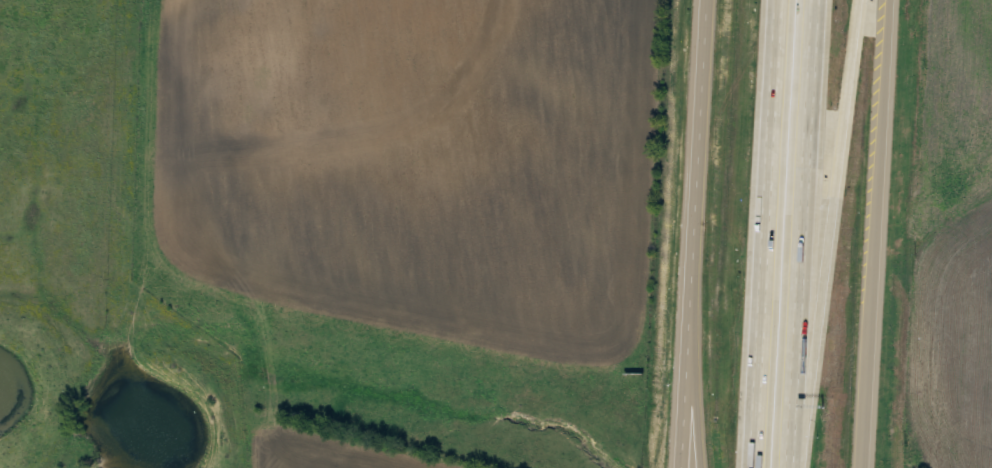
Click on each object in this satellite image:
road: (696, 234)
road: (769, 234)
road: (801, 234)
road: (832, 234)
road: (876, 234)
road: (697, 315)
building: (881, 462)

